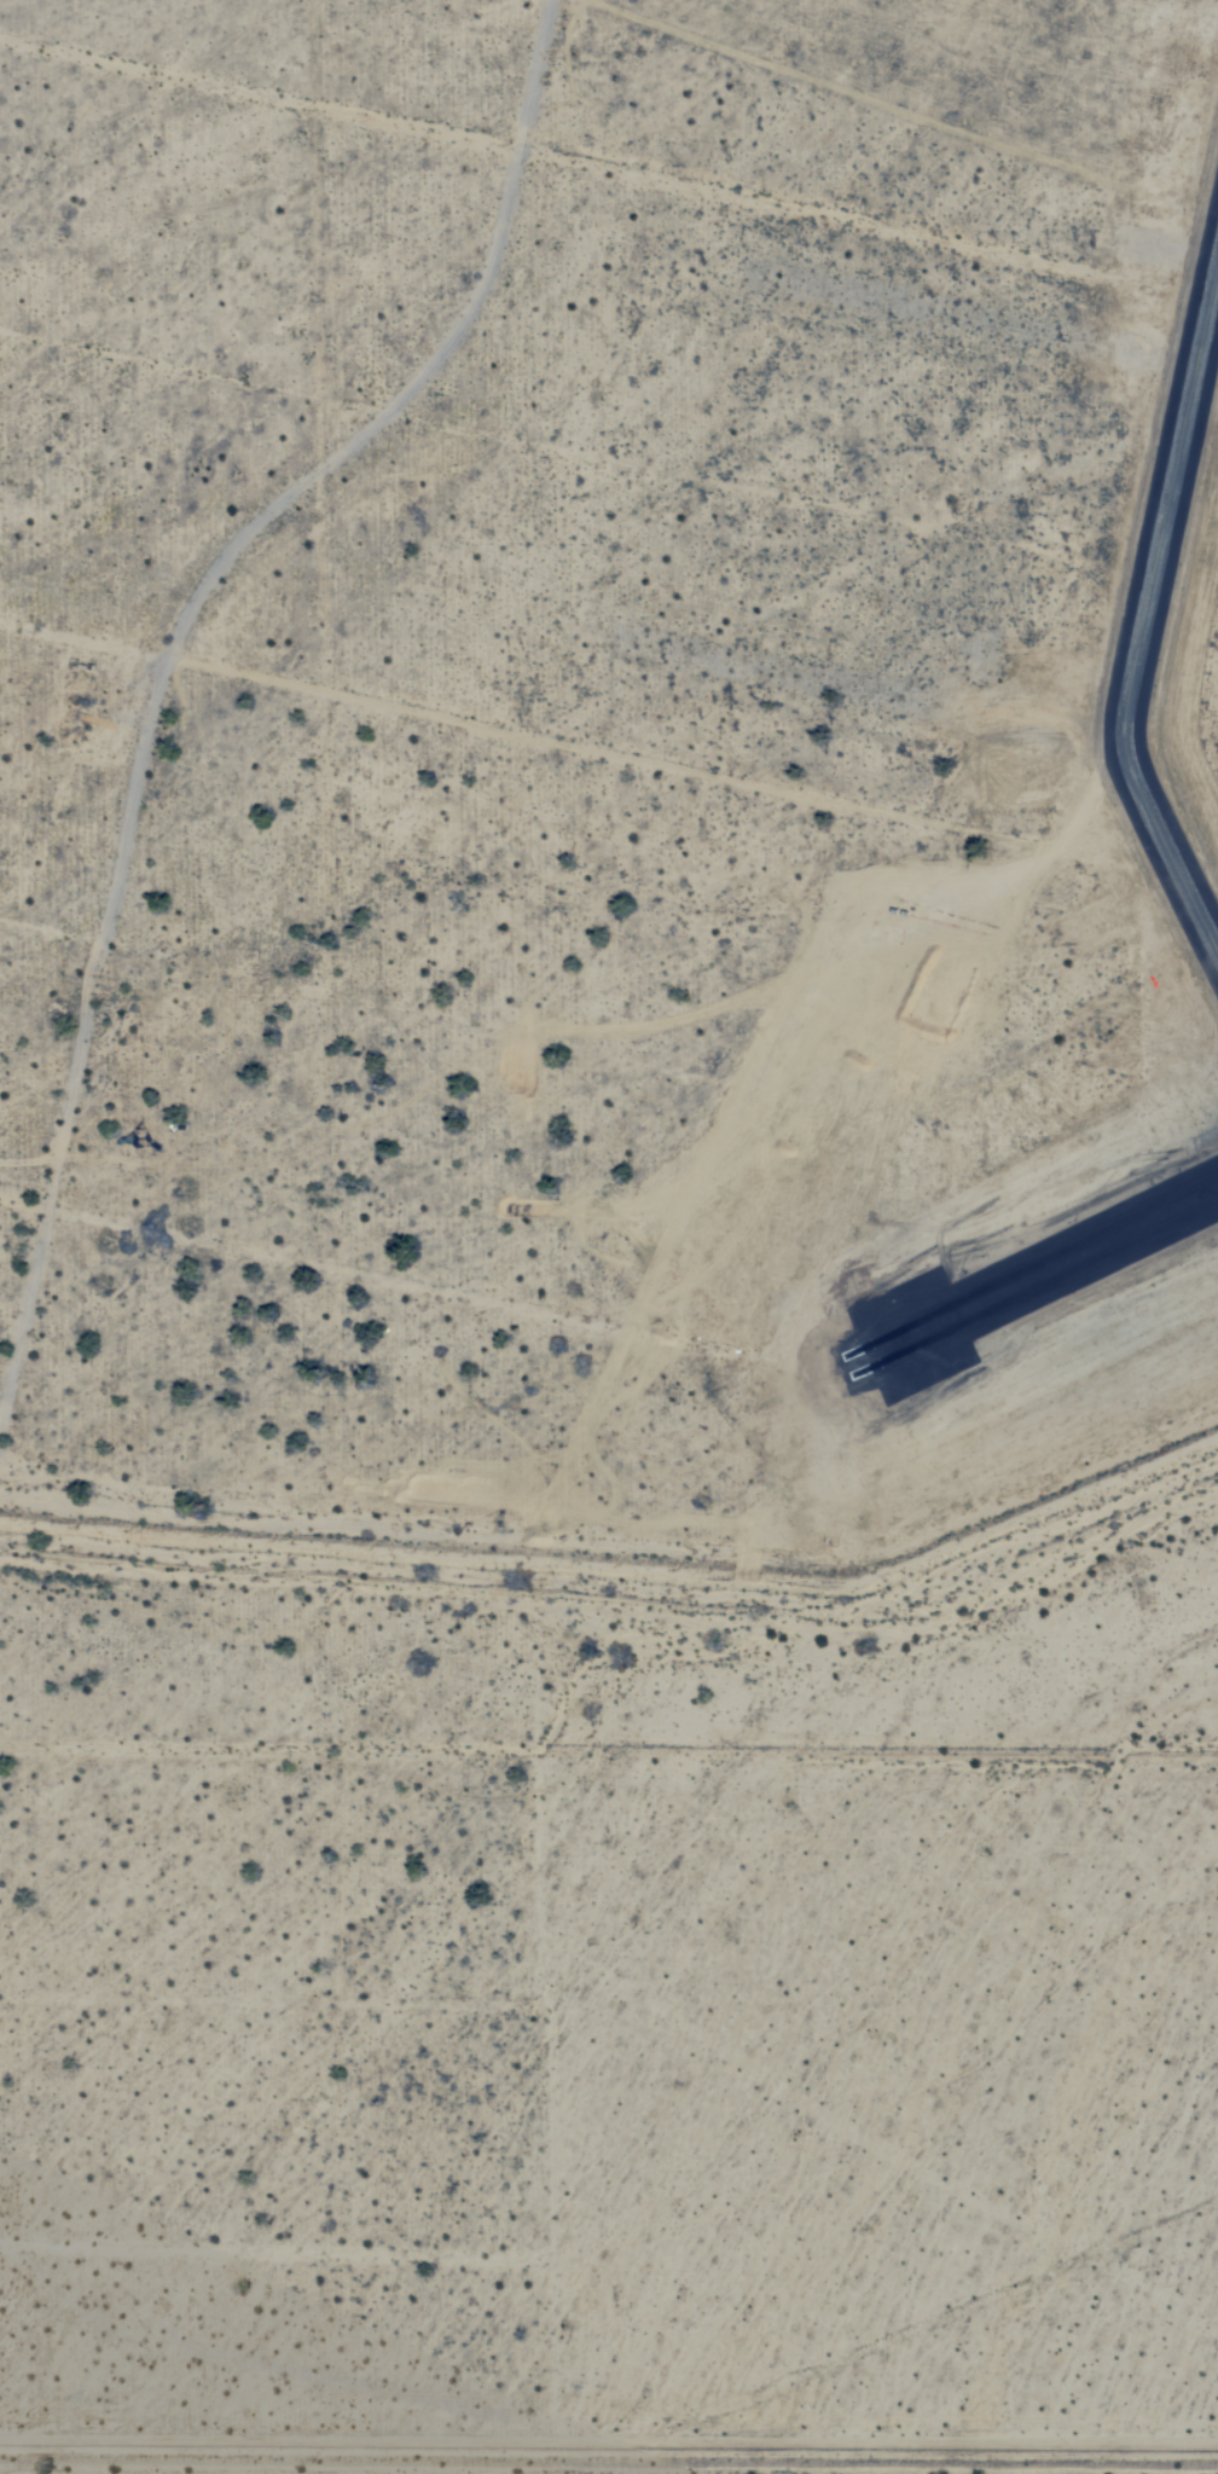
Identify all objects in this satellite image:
airport taxiway: (1144, 618)
airport: (1063, 1105)
airport runway: (1056, 1262)

